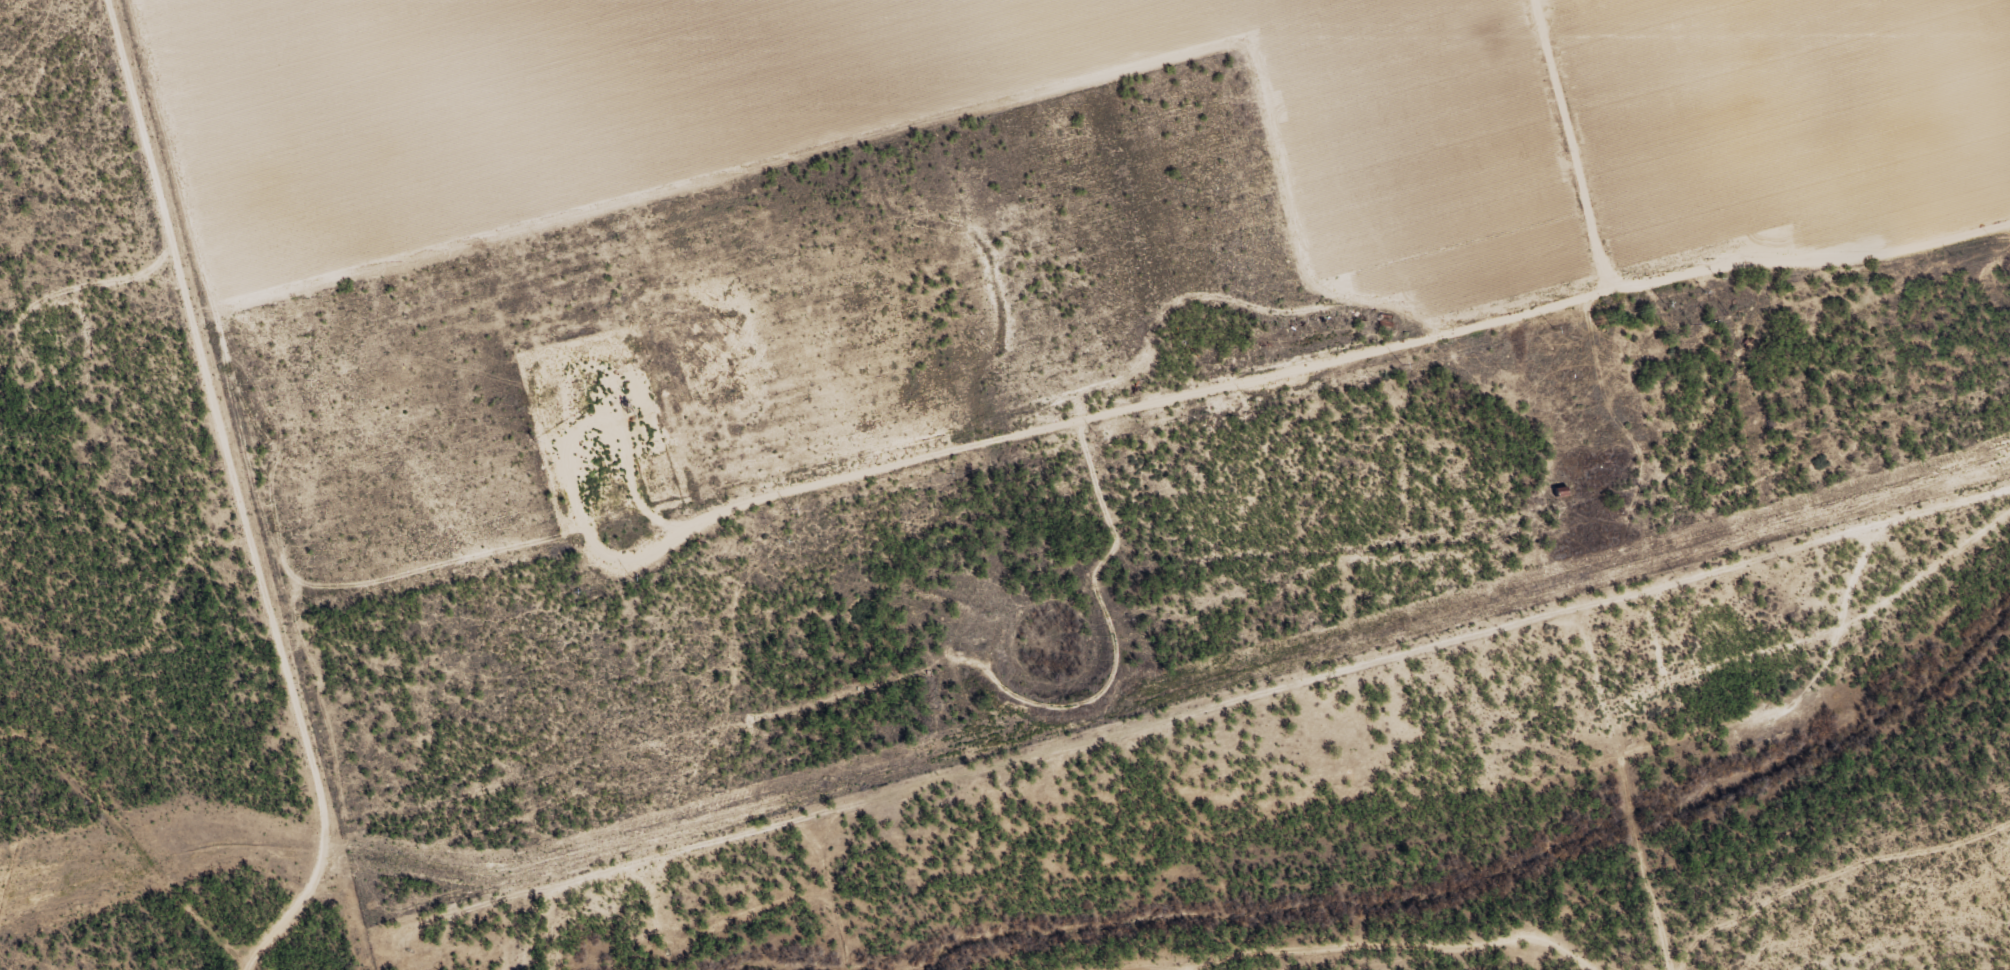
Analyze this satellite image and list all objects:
building: (1560, 491)

